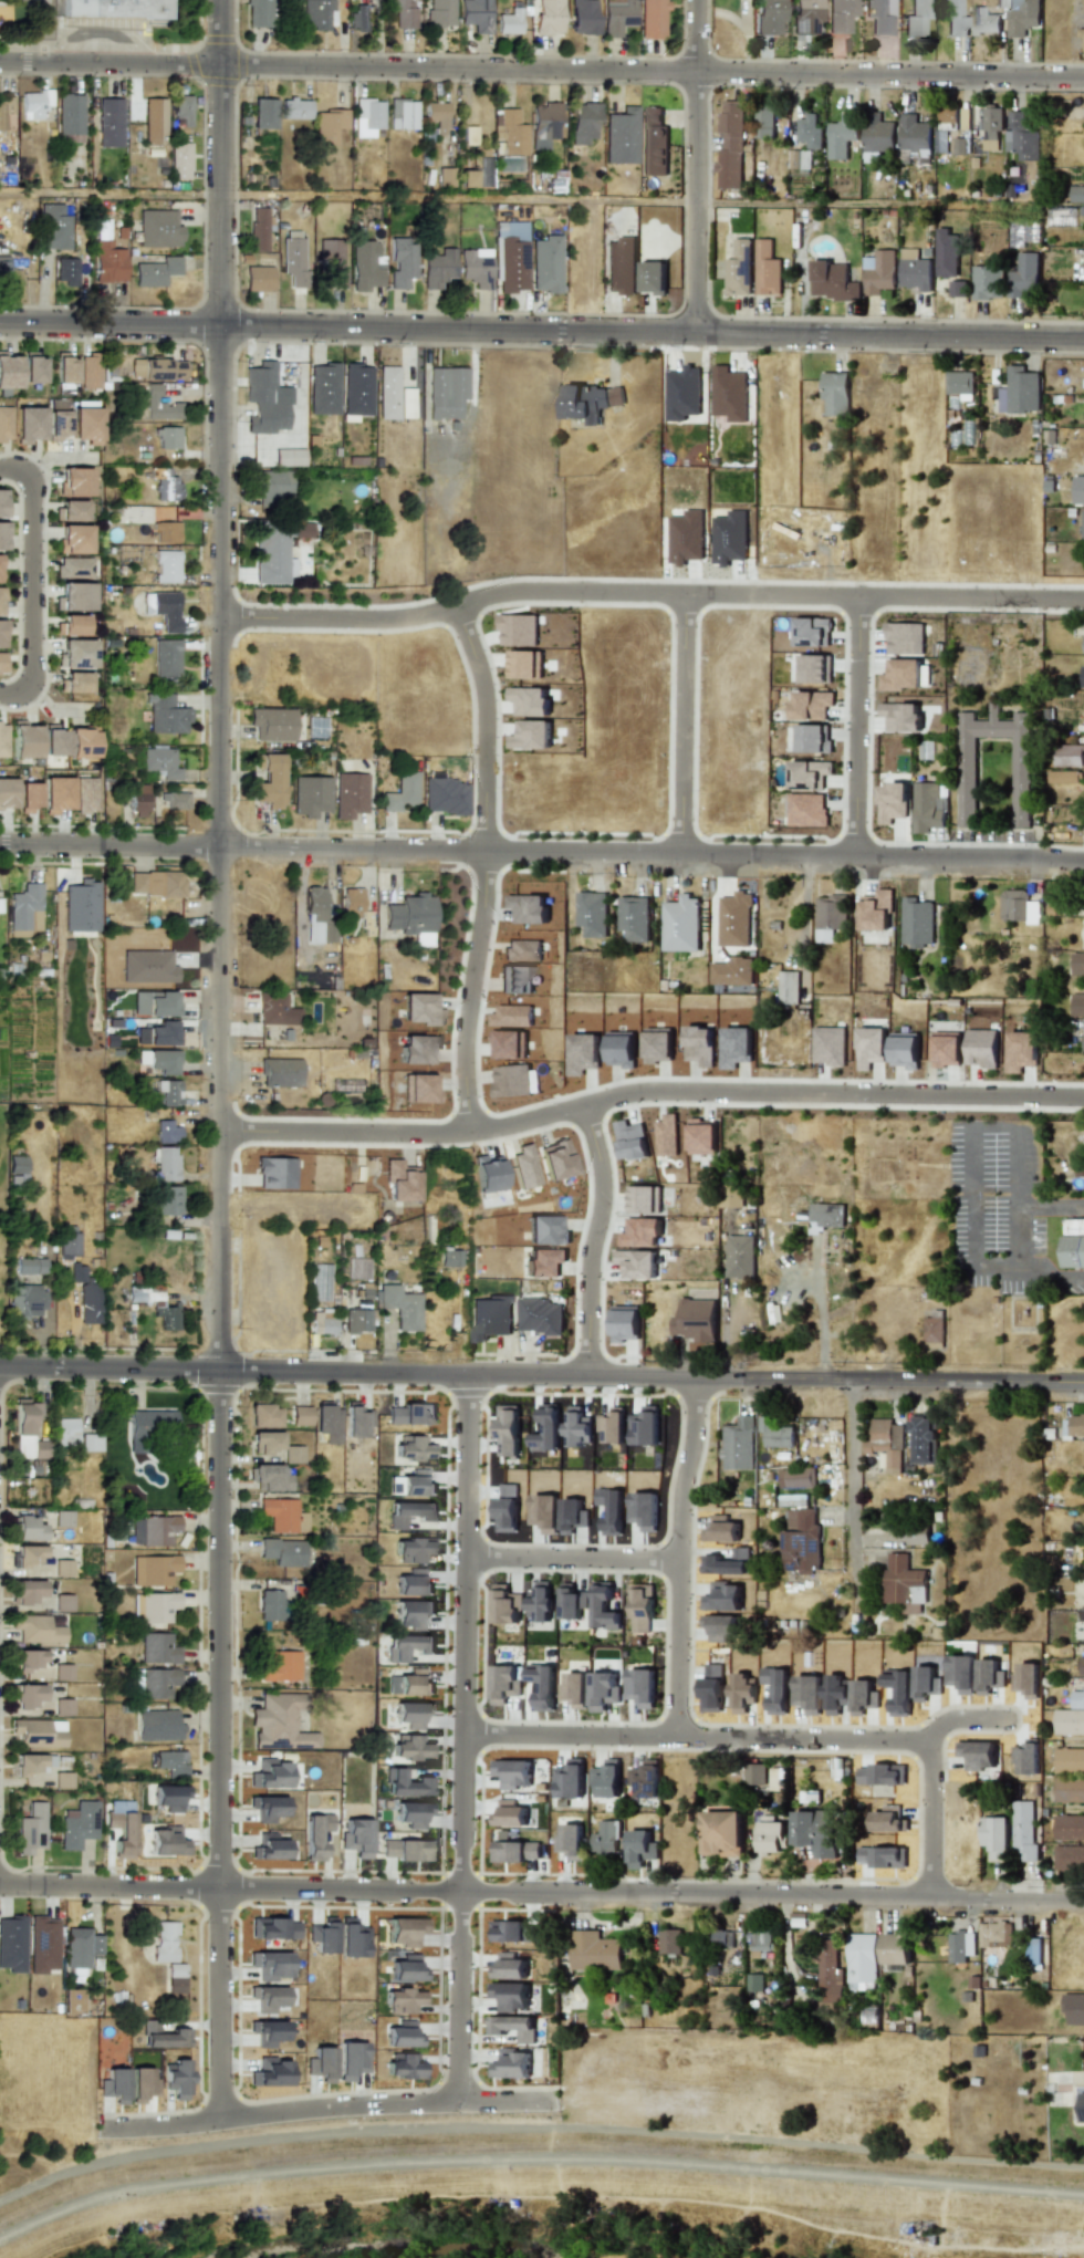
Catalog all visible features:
building: (1083, 4)
building: (116, 9)
building: (402, 12)
building: (259, 13)
building: (317, 13)
building: (440, 13)
building: (477, 14)
building: (617, 15)
building: (806, 15)
building: (840, 15)
building: (879, 15)
building: (357, 17)
building: (549, 17)
building: (584, 17)
building: (770, 17)
building: (1022, 17)
building: (953, 18)
building: (652, 19)
building: (916, 19)
building: (984, 21)
building: (509, 22)
building: (1081, 33)
road: (542, 69)
building: (34, 103)
building: (294, 108)
building: (181, 110)
building: (4, 112)
building: (262, 113)
building: (70, 114)
building: (403, 114)
building: (367, 116)
building: (436, 116)
building: (947, 117)
building: (154, 121)
building: (763, 121)
building: (584, 123)
building: (111, 124)
building: (329, 125)
building: (544, 125)
building: (991, 127)
building: (810, 132)
building: (509, 133)
building: (914, 133)
building: (877, 134)
building: (841, 135)
building: (621, 136)
building: (1021, 137)
building: (653, 142)
building: (730, 145)
building: (179, 160)
road: (698, 166)
building: (799, 166)
building: (486, 171)
building: (1014, 173)
building: (445, 177)
building: (467, 178)
road: (111, 194)
building: (1076, 195)
road: (653, 200)
building: (1082, 214)
building: (54, 226)
building: (158, 228)
building: (258, 229)
building: (947, 253)
building: (510, 256)
building: (293, 260)
building: (402, 261)
building: (108, 262)
building: (332, 262)
building: (545, 264)
building: (364, 266)
building: (621, 266)
building: (3, 268)
building: (438, 268)
building: (475, 269)
building: (738, 269)
building: (767, 269)
building: (914, 270)
building: (65, 271)
building: (156, 271)
building: (878, 272)
building: (1023, 275)
building: (258, 278)
building: (653, 278)
building: (832, 281)
building: (987, 282)
building: (957, 289)
road: (542, 330)
building: (32, 367)
building: (157, 370)
building: (8, 371)
building: (88, 372)
building: (63, 374)
building: (960, 384)
building: (323, 388)
building: (356, 389)
building: (1020, 391)
building: (387, 392)
building: (446, 392)
building: (682, 393)
building: (729, 394)
building: (835, 394)
building: (267, 398)
building: (590, 402)
building: (158, 405)
building: (3, 424)
building: (28, 424)
building: (56, 424)
building: (85, 425)
building: (167, 438)
building: (74, 481)
building: (164, 483)
building: (274, 483)
building: (1, 502)
building: (71, 510)
building: (1083, 526)
building: (302, 530)
building: (3, 532)
building: (166, 532)
building: (686, 537)
building: (729, 538)
building: (73, 539)
building: (271, 554)
building: (167, 566)
building: (74, 568)
road: (33, 583)
road: (650, 591)
building: (1, 593)
building: (74, 596)
building: (163, 608)
building: (71, 624)
building: (518, 629)
building: (812, 632)
building: (1, 634)
building: (904, 638)
building: (1083, 645)
building: (76, 653)
building: (166, 657)
building: (1, 662)
building: (524, 664)
building: (815, 668)
building: (901, 675)
building: (1082, 676)
building: (74, 681)
building: (529, 700)
building: (811, 705)
building: (165, 714)
building: (900, 717)
road: (682, 721)
building: (271, 724)
road: (856, 724)
road: (486, 728)
building: (531, 735)
building: (812, 738)
building: (2, 739)
building: (23, 739)
building: (53, 740)
building: (81, 741)
building: (1067, 755)
building: (160, 762)
building: (809, 774)
building: (1062, 777)
building: (1020, 781)
building: (268, 782)
building: (7, 793)
building: (56, 794)
building: (85, 794)
building: (348, 794)
building: (310, 795)
building: (445, 795)
building: (28, 797)
building: (138, 800)
building: (175, 800)
building: (892, 802)
building: (928, 805)
building: (806, 810)
road: (542, 851)
building: (155, 883)
building: (352, 902)
building: (81, 906)
building: (1018, 906)
building: (25, 908)
building: (876, 911)
building: (410, 914)
building: (592, 914)
building: (830, 916)
building: (317, 917)
building: (634, 918)
building: (734, 919)
building: (916, 923)
building: (680, 924)
building: (1077, 964)
building: (731, 971)
building: (788, 987)
road: (473, 990)
building: (154, 1003)
building: (1077, 1005)
building: (274, 1010)
building: (157, 1034)
building: (1083, 1041)
building: (828, 1045)
building: (871, 1047)
building: (981, 1048)
building: (947, 1049)
building: (904, 1050)
building: (1021, 1051)
building: (161, 1061)
road: (220, 1061)
building: (280, 1072)
road: (649, 1091)
building: (168, 1092)
building: (167, 1132)
building: (666, 1136)
building: (701, 1137)
building: (630, 1141)
building: (165, 1163)
building: (15, 1164)
building: (1078, 1169)
road: (972, 1177)
building: (731, 1196)
road: (1013, 1198)
building: (645, 1199)
building: (167, 1200)
road: (992, 1203)
road: (1049, 1204)
building: (827, 1215)
building: (640, 1232)
road: (593, 1236)
building: (1074, 1244)
building: (67, 1245)
building: (740, 1257)
building: (449, 1258)
building: (322, 1261)
building: (637, 1263)
building: (30, 1266)
road: (1029, 1267)
building: (358, 1268)
building: (76, 1273)
building: (320, 1290)
building: (25, 1301)
building: (88, 1303)
building: (155, 1304)
building: (400, 1307)
road: (820, 1311)
building: (490, 1317)
building: (540, 1317)
building: (695, 1320)
building: (357, 1321)
building: (323, 1322)
building: (625, 1324)
building: (932, 1332)
road: (541, 1372)
building: (263, 1415)
building: (410, 1415)
building: (300, 1416)
building: (356, 1421)
building: (326, 1423)
building: (1078, 1426)
building: (147, 1427)
building: (576, 1427)
building: (612, 1427)
building: (645, 1428)
building: (544, 1429)
building: (27, 1430)
building: (65, 1430)
building: (508, 1430)
building: (775, 1433)
building: (925, 1439)
building: (267, 1442)
building: (91, 1443)
building: (886, 1444)
building: (738, 1445)
building: (414, 1448)
building: (293, 1455)
building: (271, 1477)
building: (796, 1478)
building: (413, 1484)
road: (855, 1508)
building: (409, 1513)
building: (283, 1515)
building: (62, 1519)
building: (27, 1528)
building: (153, 1531)
building: (913, 1533)
building: (801, 1541)
building: (413, 1550)
building: (282, 1551)
road: (681, 1554)
building: (28, 1557)
road: (574, 1560)
building: (62, 1567)
building: (154, 1570)
building: (413, 1583)
building: (904, 1585)
building: (28, 1591)
building: (540, 1602)
building: (572, 1602)
building: (62, 1603)
building: (153, 1606)
building: (271, 1607)
building: (505, 1607)
building: (643, 1607)
building: (604, 1609)
building: (413, 1613)
building: (35, 1629)
building: (407, 1646)
building: (157, 1648)
building: (28, 1659)
building: (1082, 1665)
building: (281, 1666)
building: (155, 1683)
building: (414, 1683)
building: (504, 1684)
building: (543, 1686)
building: (640, 1687)
building: (574, 1689)
building: (603, 1690)
building: (25, 1695)
building: (1077, 1699)
building: (62, 1709)
building: (410, 1714)
road: (961, 1720)
building: (1069, 1721)
building: (279, 1724)
building: (157, 1725)
building: (39, 1732)
road: (465, 1736)
road: (773, 1738)
building: (410, 1748)
building: (1069, 1760)
building: (171, 1762)
building: (29, 1763)
building: (511, 1772)
building: (269, 1773)
building: (755, 1775)
building: (570, 1779)
building: (606, 1779)
building: (645, 1779)
building: (62, 1780)
building: (406, 1783)
building: (1069, 1790)
building: (169, 1797)
building: (267, 1808)
building: (411, 1813)
building: (509, 1814)
building: (77, 1824)
building: (1069, 1828)
building: (30, 1829)
building: (121, 1831)
building: (816, 1831)
building: (1023, 1831)
building: (722, 1833)
building: (315, 1835)
building: (771, 1835)
building: (994, 1836)
building: (356, 1838)
building: (605, 1838)
building: (166, 1841)
building: (570, 1841)
building: (269, 1848)
building: (640, 1849)
building: (405, 1850)
building: (515, 1851)
building: (1069, 1856)
road: (542, 1892)
building: (273, 1928)
building: (404, 1931)
building: (513, 1932)
building: (996, 1935)
building: (321, 1937)
building: (352, 1938)
building: (721, 1938)
building: (761, 1939)
building: (164, 1940)
building: (669, 1942)
building: (11, 1943)
building: (42, 1944)
building: (81, 1947)
building: (957, 1947)
building: (895, 1948)
building: (1033, 1950)
building: (594, 1952)
building: (269, 1965)
building: (508, 1967)
building: (406, 1969)
building: (828, 1971)
building: (175, 1978)
building: (754, 1983)
building: (509, 1996)
building: (267, 1998)
building: (403, 2000)
building: (72, 2001)
building: (1073, 2008)
building: (512, 2027)
building: (267, 2032)
building: (402, 2035)
building: (163, 2037)
building: (351, 2060)
building: (320, 2063)
building: (510, 2064)
building: (404, 2066)
building: (270, 2072)
building: (175, 2079)
building: (113, 2084)
building: (142, 2084)
road: (329, 2106)
building: (1081, 2108)
road: (538, 2126)
road: (536, 2158)

